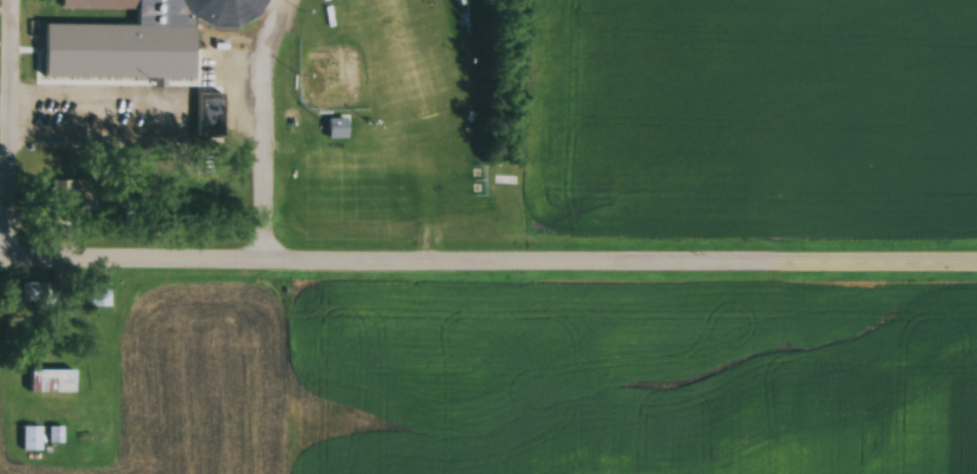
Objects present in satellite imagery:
road: (272, 21)
building: (129, 41)
park: (400, 61)
road: (257, 70)
park: (326, 75)
building: (207, 115)
road: (253, 183)
road: (488, 268)
building: (37, 295)
building: (99, 295)
building: (51, 381)
building: (54, 435)
building: (30, 438)

